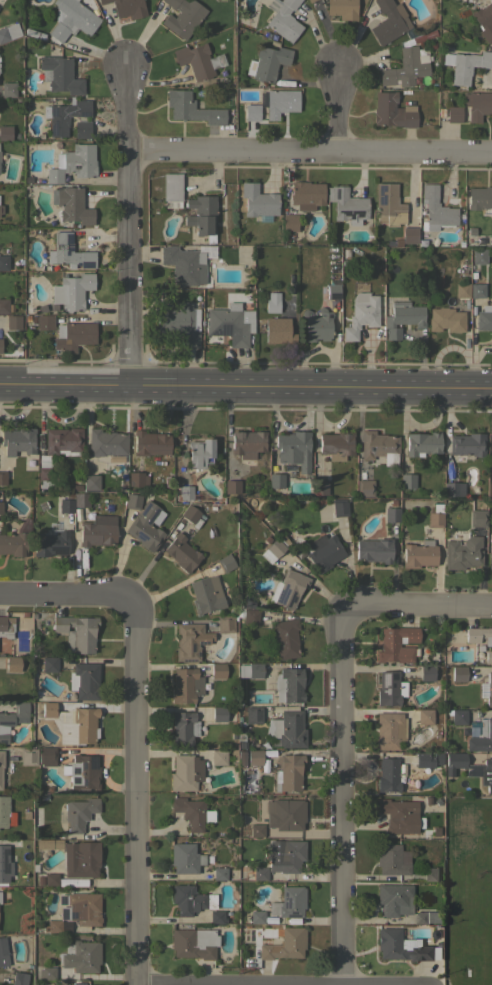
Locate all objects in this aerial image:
building: (309, 0)
building: (126, 7)
building: (342, 8)
building: (182, 16)
building: (283, 18)
building: (72, 19)
building: (484, 19)
building: (389, 21)
building: (9, 32)
building: (198, 60)
building: (267, 62)
building: (410, 65)
building: (468, 65)
building: (59, 74)
building: (386, 77)
building: (7, 89)
building: (280, 102)
building: (477, 104)
road: (337, 107)
building: (191, 108)
building: (392, 111)
rooftop solar panel: (53, 112)
building: (251, 112)
building: (64, 114)
rooftop solar panel: (84, 114)
building: (453, 114)
building: (82, 129)
rooftop solar panel: (54, 130)
building: (5, 132)
road: (309, 153)
building: (73, 163)
building: (171, 189)
rooftop solar panel: (336, 192)
building: (306, 194)
building: (480, 199)
building: (257, 200)
building: (71, 204)
building: (347, 205)
building: (388, 205)
building: (1, 209)
building: (435, 210)
rooftop solar panel: (352, 214)
building: (202, 215)
building: (289, 222)
road: (127, 225)
building: (491, 234)
building: (409, 235)
rooftop solar panel: (68, 239)
rooftop solar panel: (69, 244)
rooftop solar panel: (69, 250)
building: (68, 252)
building: (478, 256)
building: (4, 262)
rooftop solar panel: (85, 264)
building: (183, 265)
building: (461, 290)
building: (477, 290)
building: (71, 291)
building: (332, 291)
building: (272, 302)
building: (4, 305)
building: (362, 313)
building: (483, 317)
building: (402, 318)
building: (445, 319)
building: (13, 322)
building: (44, 322)
building: (180, 322)
building: (231, 323)
building: (317, 324)
building: (278, 330)
building: (73, 335)
building: (0, 345)
road: (245, 386)
building: (18, 441)
building: (106, 443)
building: (150, 443)
building: (247, 443)
building: (422, 443)
building: (467, 444)
building: (336, 445)
building: (379, 446)
building: (293, 449)
building: (200, 452)
building: (44, 463)
building: (3, 477)
building: (137, 479)
building: (276, 480)
building: (407, 480)
building: (91, 482)
building: (232, 486)
building: (319, 487)
building: (364, 488)
building: (454, 489)
building: (184, 492)
building: (81, 499)
building: (132, 501)
building: (66, 505)
building: (1, 507)
building: (339, 508)
building: (190, 514)
building: (391, 514)
building: (435, 515)
building: (477, 518)
building: (146, 526)
building: (98, 531)
rooftop solar panel: (142, 537)
building: (14, 543)
building: (50, 543)
building: (273, 550)
building: (374, 550)
building: (323, 551)
building: (181, 552)
building: (462, 552)
building: (490, 552)
building: (419, 554)
building: (225, 563)
building: (288, 589)
rooftop solar panel: (281, 593)
building: (206, 594)
road: (68, 597)
rooftop solar panel: (290, 599)
road: (415, 605)
building: (250, 616)
building: (225, 623)
building: (6, 626)
building: (77, 632)
building: (480, 637)
building: (285, 638)
building: (190, 641)
rooftop solar panel: (203, 642)
building: (397, 644)
rooftop solar panel: (192, 647)
rooftop solar panel: (198, 653)
rooftop solar panel: (188, 660)
building: (13, 663)
building: (49, 664)
building: (218, 670)
building: (250, 670)
building: (427, 673)
building: (459, 673)
rooftop solar panel: (386, 677)
building: (84, 680)
building: (185, 685)
building: (289, 685)
building: (390, 688)
building: (486, 688)
building: (219, 713)
building: (253, 715)
building: (425, 716)
building: (459, 716)
building: (12, 718)
building: (72, 723)
building: (183, 728)
building: (289, 729)
building: (389, 730)
building: (481, 735)
building: (28, 756)
building: (46, 756)
building: (218, 756)
building: (254, 757)
building: (241, 758)
building: (424, 759)
building: (453, 761)
rooftop solar panel: (93, 763)
building: (1, 765)
building: (82, 772)
building: (185, 772)
building: (288, 772)
rooftop solar panel: (77, 773)
building: (388, 774)
building: (486, 774)
rooftop solar panel: (76, 781)
road: (135, 795)
road: (344, 798)
building: (3, 810)
building: (192, 812)
building: (79, 813)
building: (400, 815)
building: (281, 817)
building: (48, 843)
building: (284, 855)
building: (185, 858)
building: (80, 859)
building: (392, 859)
building: (5, 862)
building: (219, 873)
building: (257, 873)
building: (431, 874)
building: (50, 879)
building: (393, 898)
building: (190, 899)
rooftop solar panel: (63, 901)
building: (289, 902)
building: (80, 908)
rooftop solar panel: (63, 912)
rooftop solar panel: (73, 915)
building: (216, 916)
building: (256, 916)
building: (427, 917)
rooftop solar panel: (68, 924)
building: (57, 926)
building: (388, 937)
building: (193, 943)
building: (285, 944)
building: (3, 952)
building: (82, 957)
building: (47, 973)
building: (19, 978)

